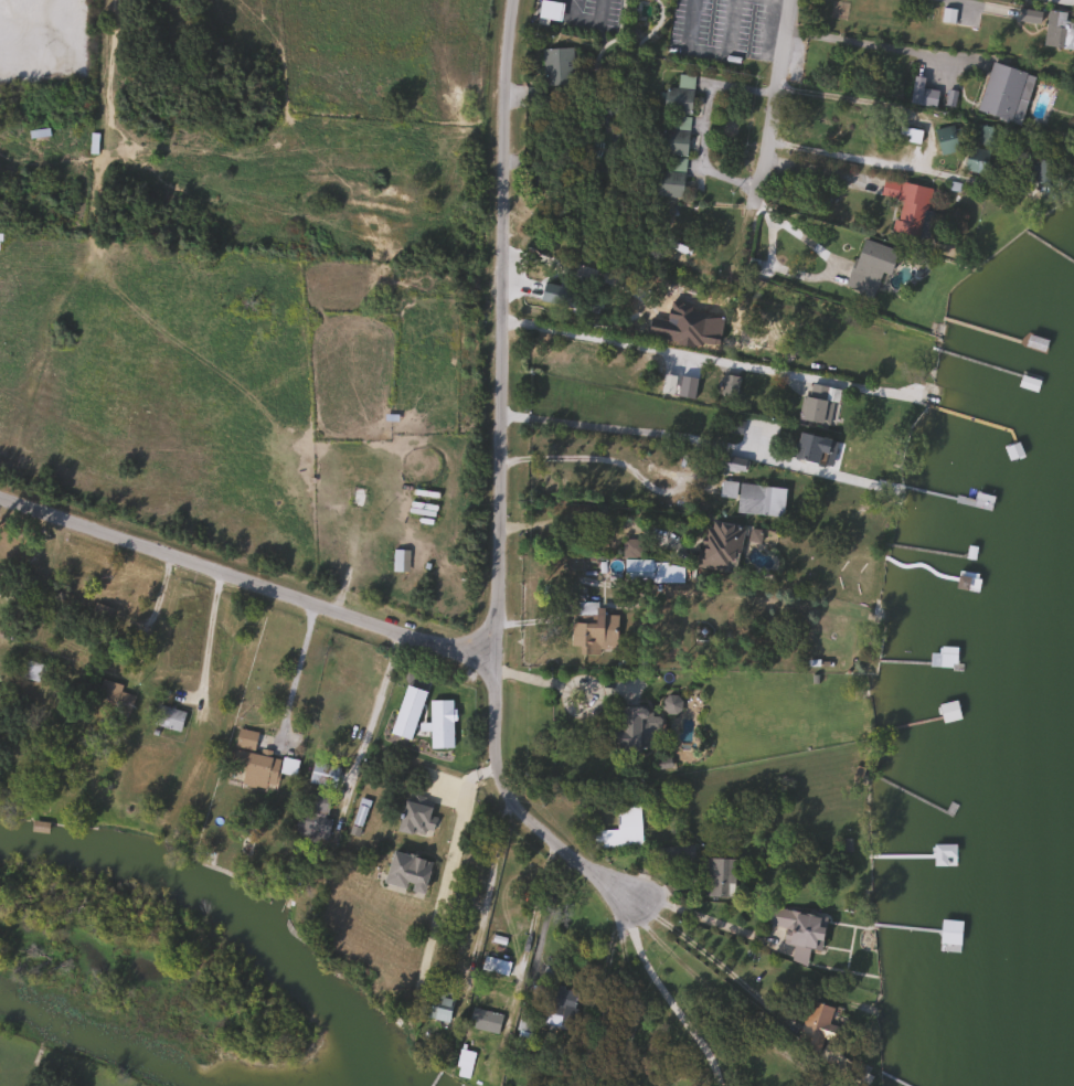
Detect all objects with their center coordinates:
road: (983, 7)
building: (549, 10)
road: (863, 43)
building: (556, 66)
building: (1002, 91)
building: (921, 93)
road: (772, 95)
building: (678, 96)
road: (874, 103)
road: (701, 126)
building: (907, 135)
building: (988, 136)
building: (945, 139)
building: (669, 159)
road: (865, 159)
building: (975, 160)
building: (910, 205)
building: (874, 259)
road: (503, 328)
road: (656, 348)
building: (1028, 382)
building: (817, 404)
road: (650, 440)
building: (809, 448)
road: (598, 456)
building: (734, 465)
building: (726, 489)
building: (759, 500)
road: (594, 519)
building: (721, 542)
building: (400, 561)
building: (644, 569)
road: (244, 582)
road: (149, 615)
building: (97, 616)
road: (210, 631)
building: (595, 631)
building: (943, 658)
road: (297, 663)
building: (34, 671)
road: (561, 684)
building: (111, 698)
building: (947, 711)
road: (372, 716)
building: (168, 717)
building: (637, 728)
building: (257, 759)
building: (319, 774)
road: (509, 800)
building: (312, 817)
building: (414, 818)
building: (39, 827)
building: (620, 829)
building: (949, 861)
building: (406, 872)
building: (719, 877)
river: (205, 885)
road: (682, 912)
road: (542, 924)
building: (798, 930)
building: (949, 935)
road: (689, 941)
building: (493, 965)
building: (546, 976)
road: (631, 990)
road: (663, 992)
road: (719, 994)
building: (561, 1002)
building: (483, 1020)
building: (815, 1025)
building: (524, 1031)
river: (106, 1046)
building: (462, 1063)

